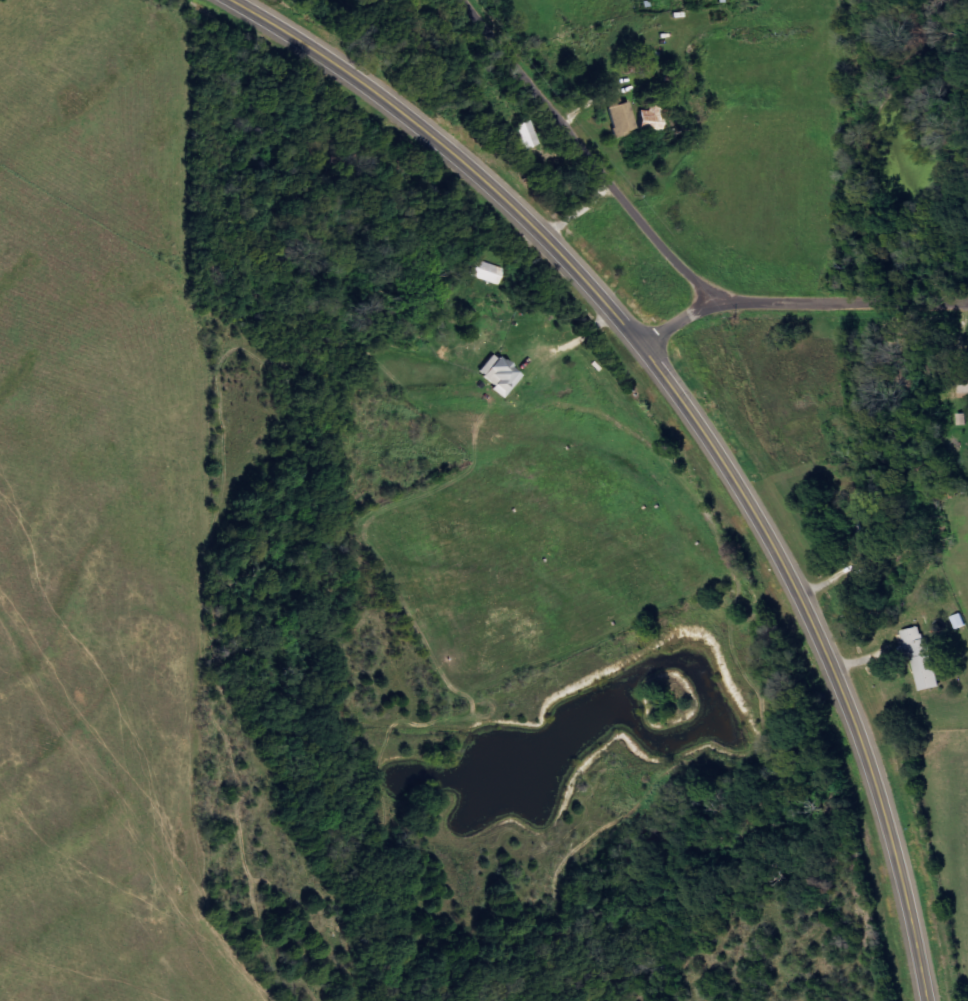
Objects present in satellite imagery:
building: (623, 117)
building: (654, 117)
building: (530, 135)
road: (672, 247)
building: (488, 272)
road: (688, 318)
building: (502, 375)
building: (965, 383)
road: (706, 420)
building: (925, 659)

